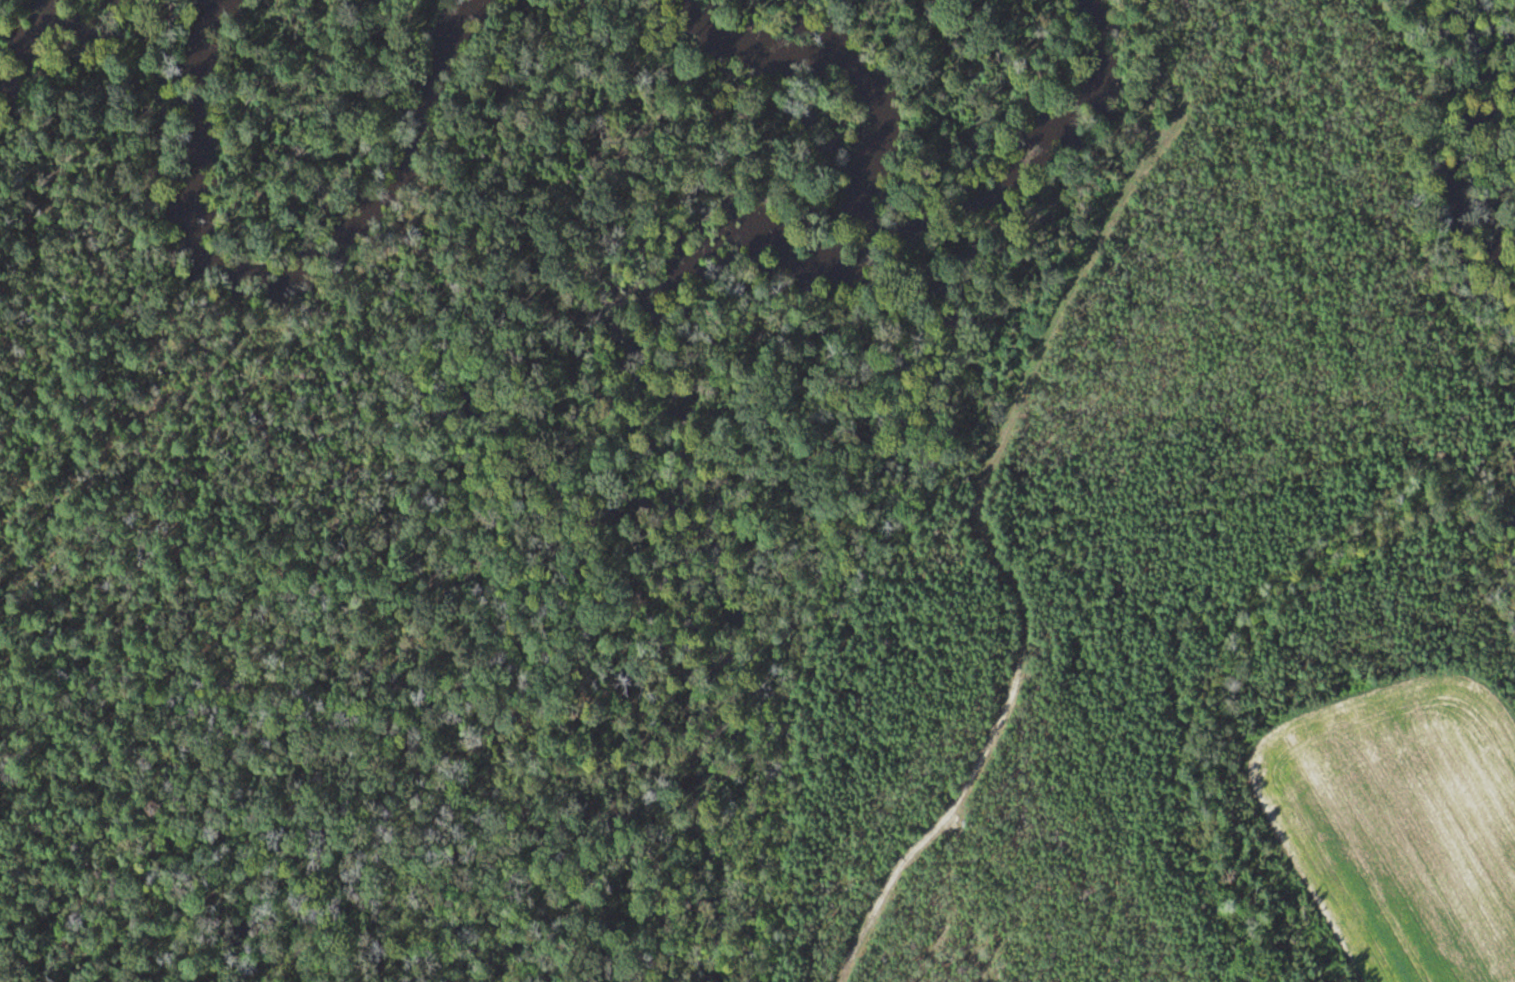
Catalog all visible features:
river: (805, 101)
river: (1049, 180)
river: (267, 300)

